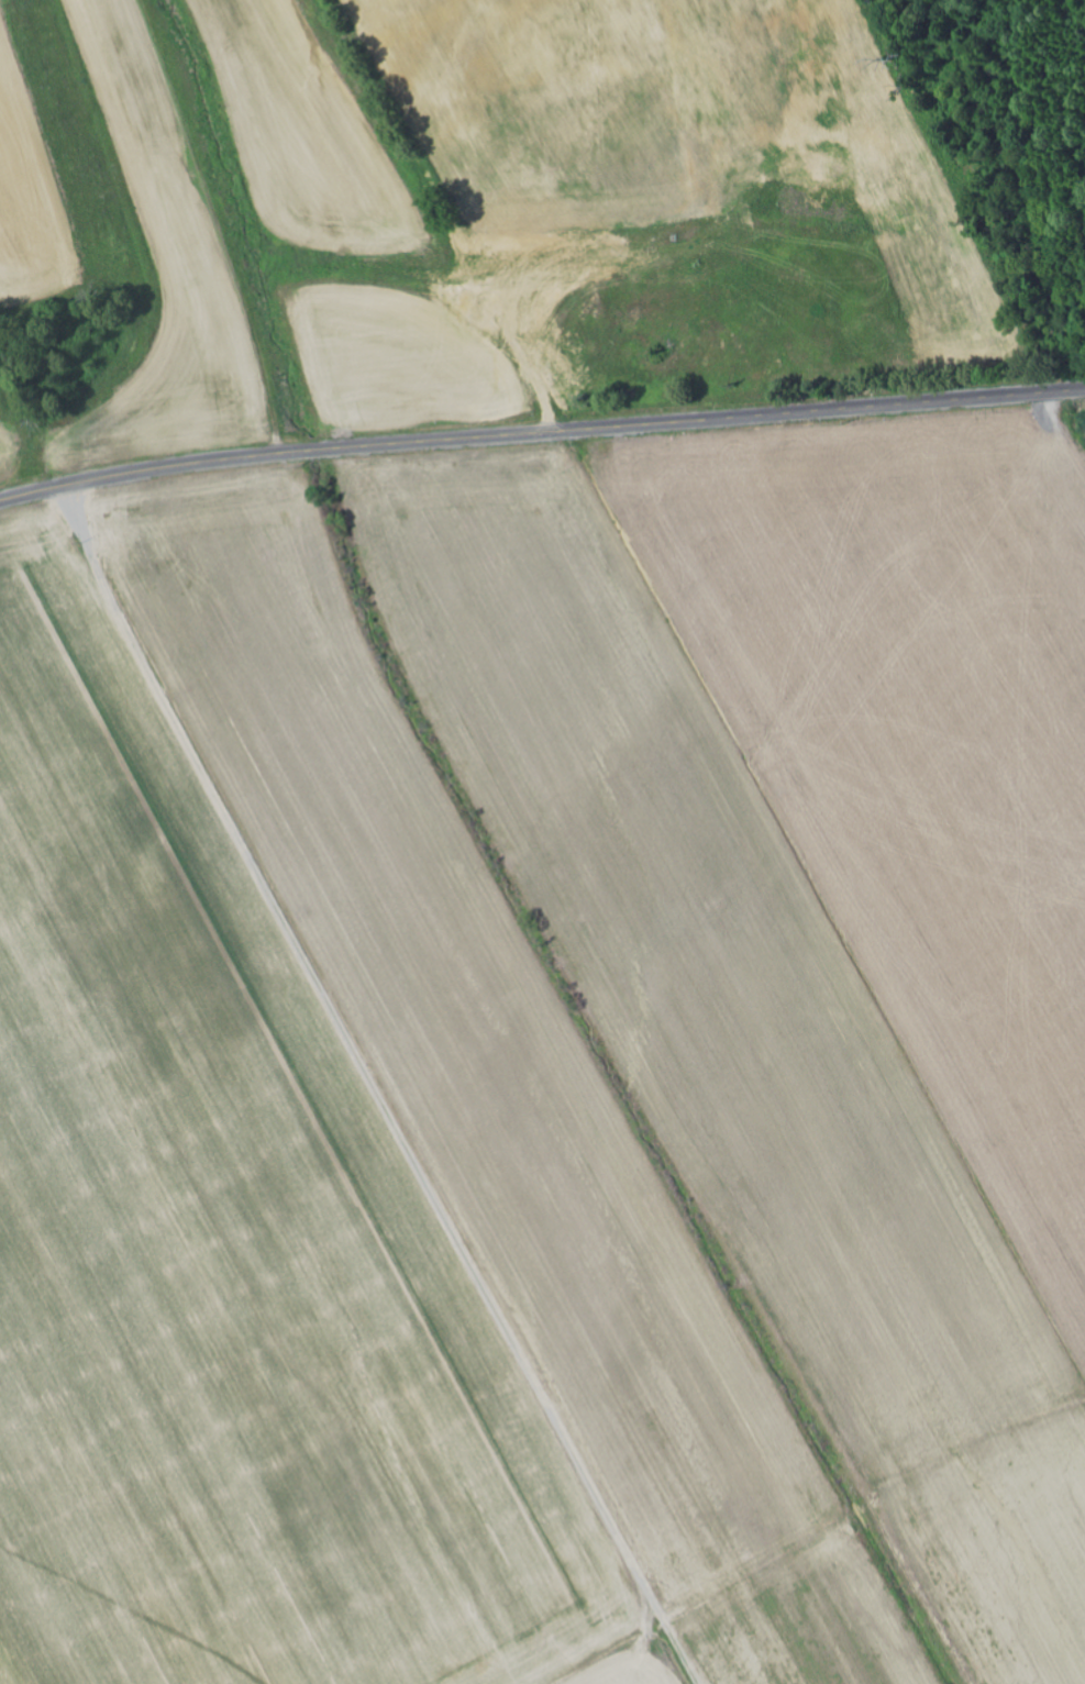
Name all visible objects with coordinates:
road: (210, 226)
road: (540, 435)
road: (18, 439)

